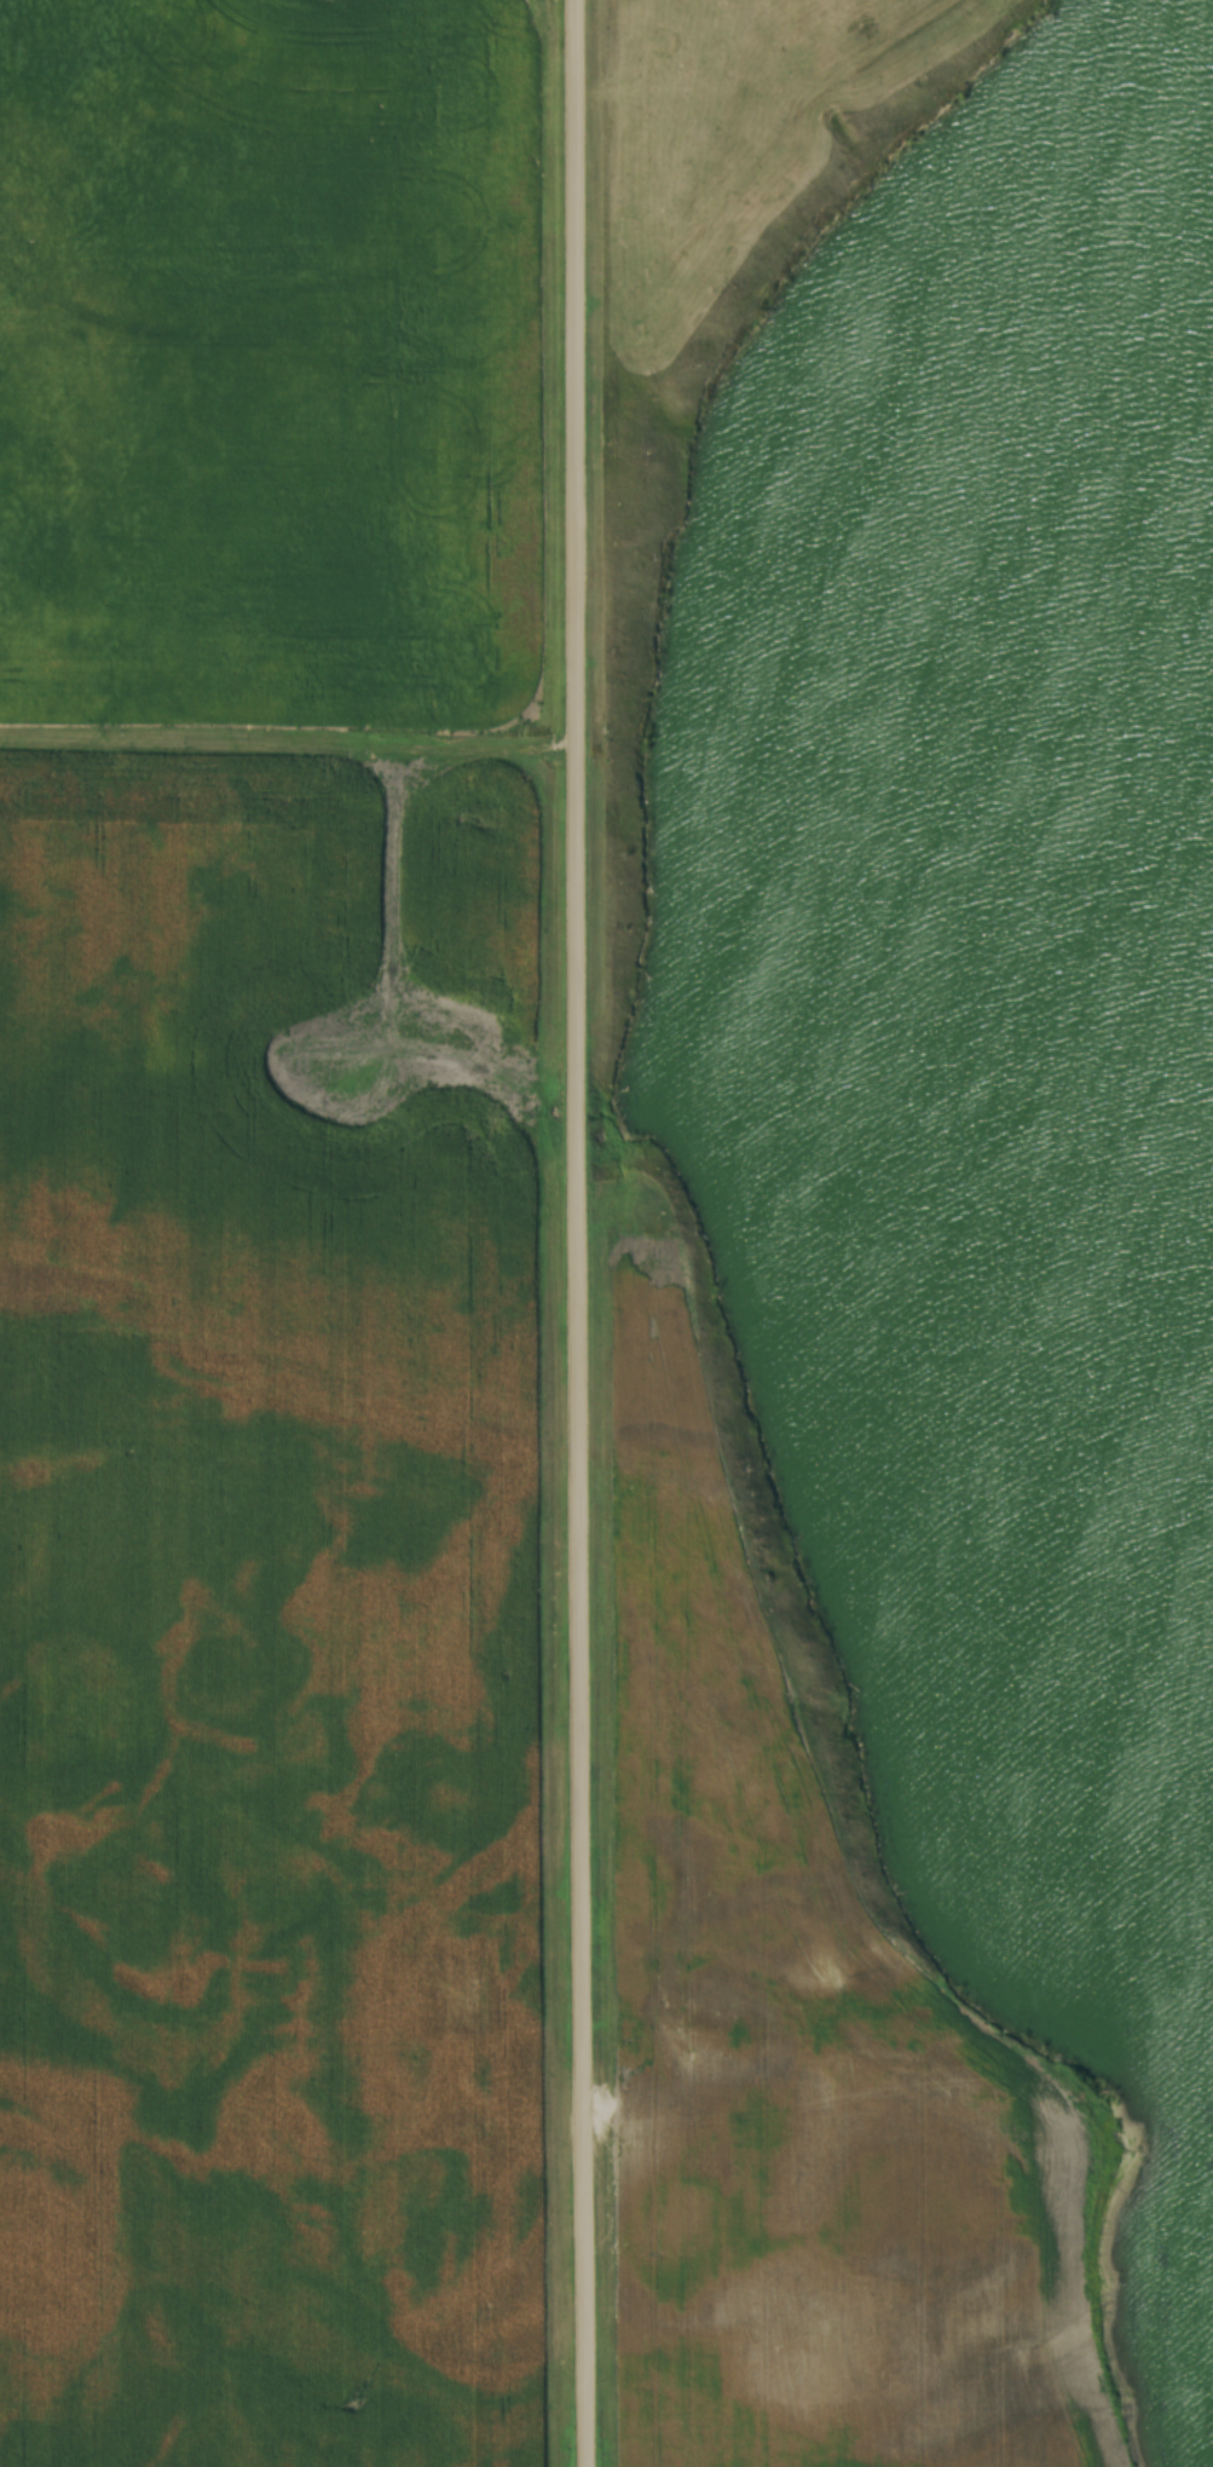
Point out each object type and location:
road: (288, 739)
road: (579, 1233)

